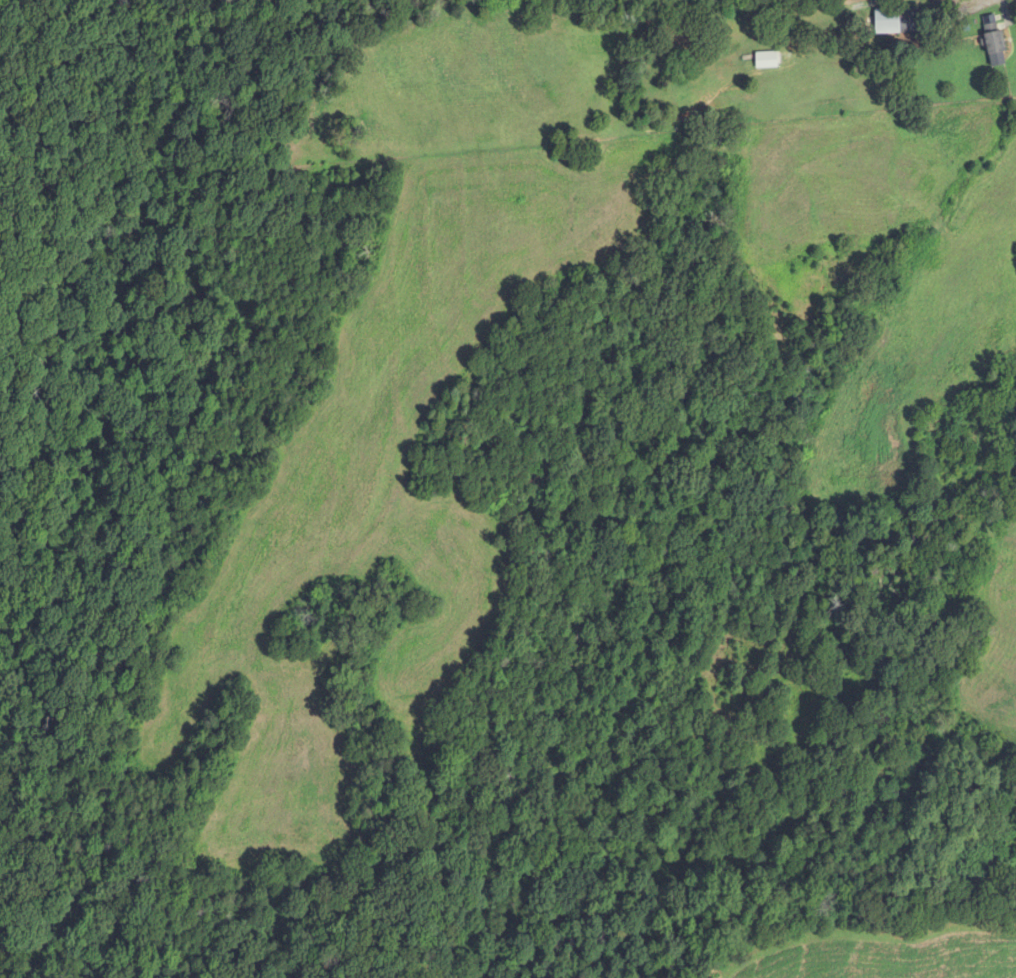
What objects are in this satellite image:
road: (961, 2)
road: (1005, 12)
building: (895, 21)
building: (992, 38)

